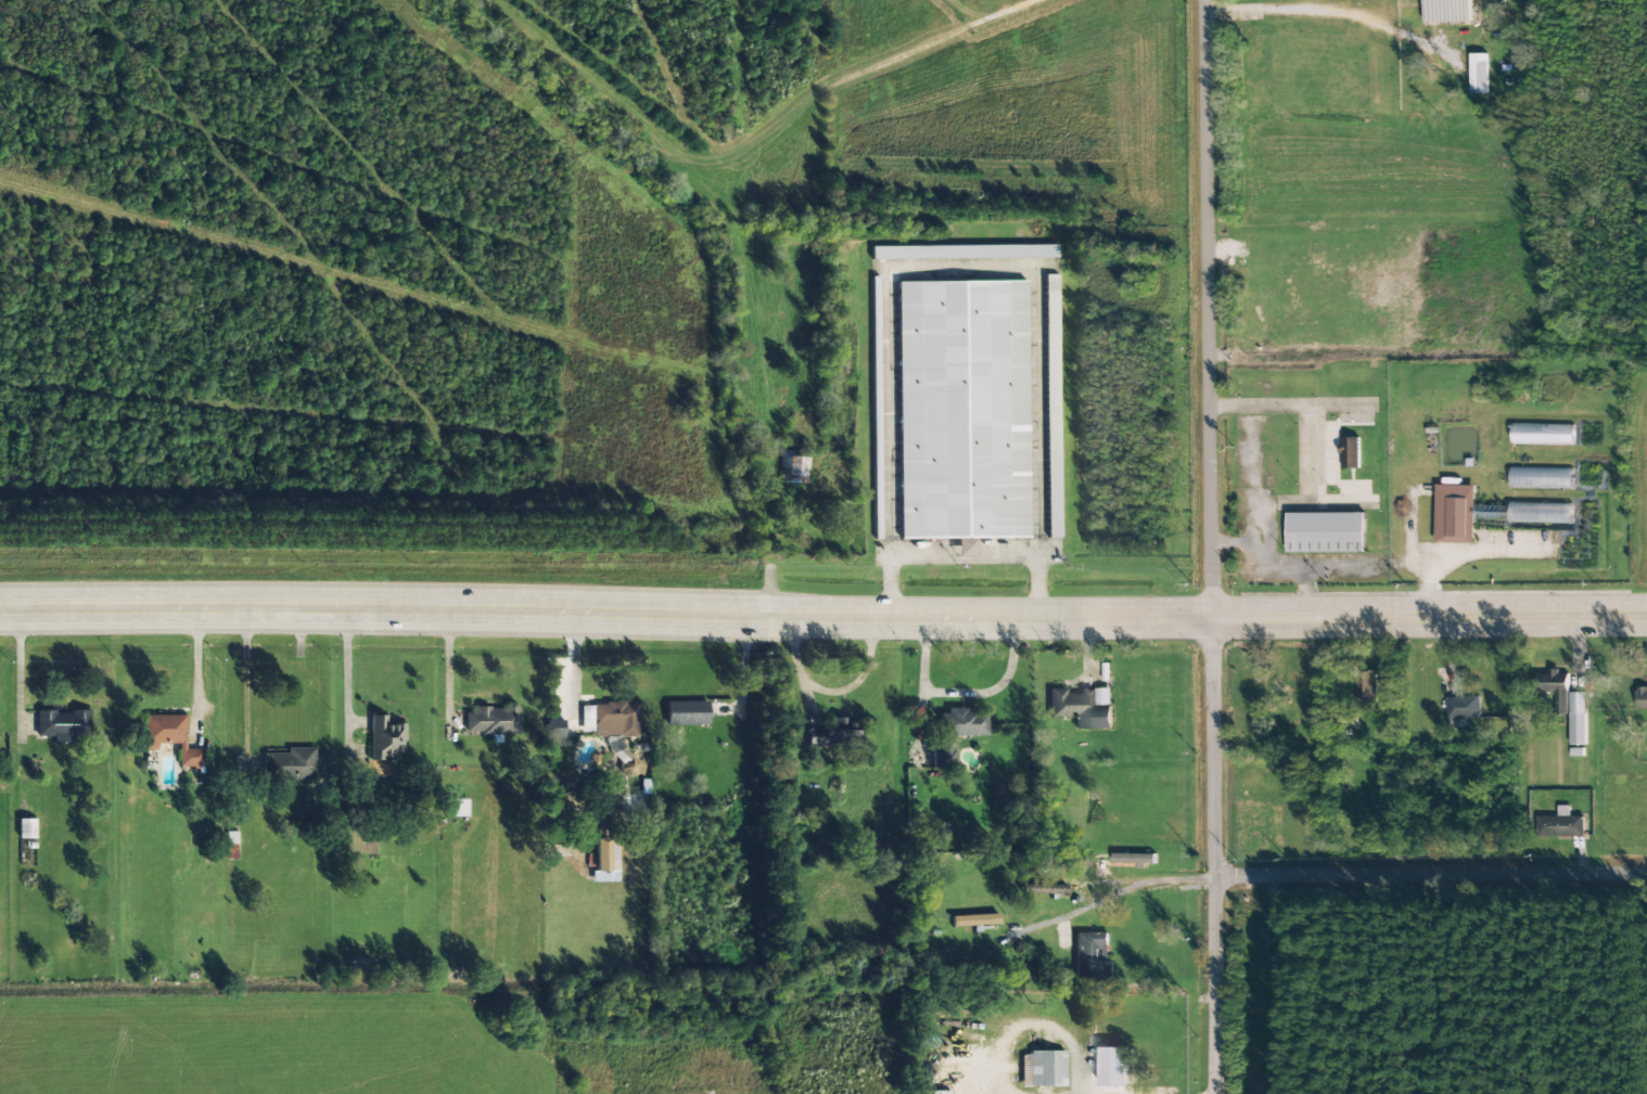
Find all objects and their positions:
building: (1446, 11)
building: (1479, 74)
building: (963, 252)
road: (1206, 308)
building: (1051, 406)
building: (876, 407)
building: (962, 410)
building: (1542, 434)
building: (1350, 452)
building: (795, 466)
building: (1542, 477)
building: (1549, 511)
building: (1455, 514)
building: (1325, 532)
road: (822, 616)
building: (1555, 691)
building: (1366, 692)
building: (1642, 698)
building: (1082, 707)
building: (1463, 707)
building: (687, 713)
building: (1578, 718)
building: (493, 721)
building: (63, 725)
building: (614, 730)
building: (556, 732)
building: (835, 733)
building: (957, 733)
building: (170, 737)
building: (385, 738)
building: (290, 764)
building: (460, 807)
building: (1561, 824)
building: (26, 828)
building: (231, 845)
road: (1213, 854)
building: (599, 855)
road: (1430, 873)
building: (1043, 889)
building: (974, 919)
building: (1091, 955)
building: (1043, 1069)

